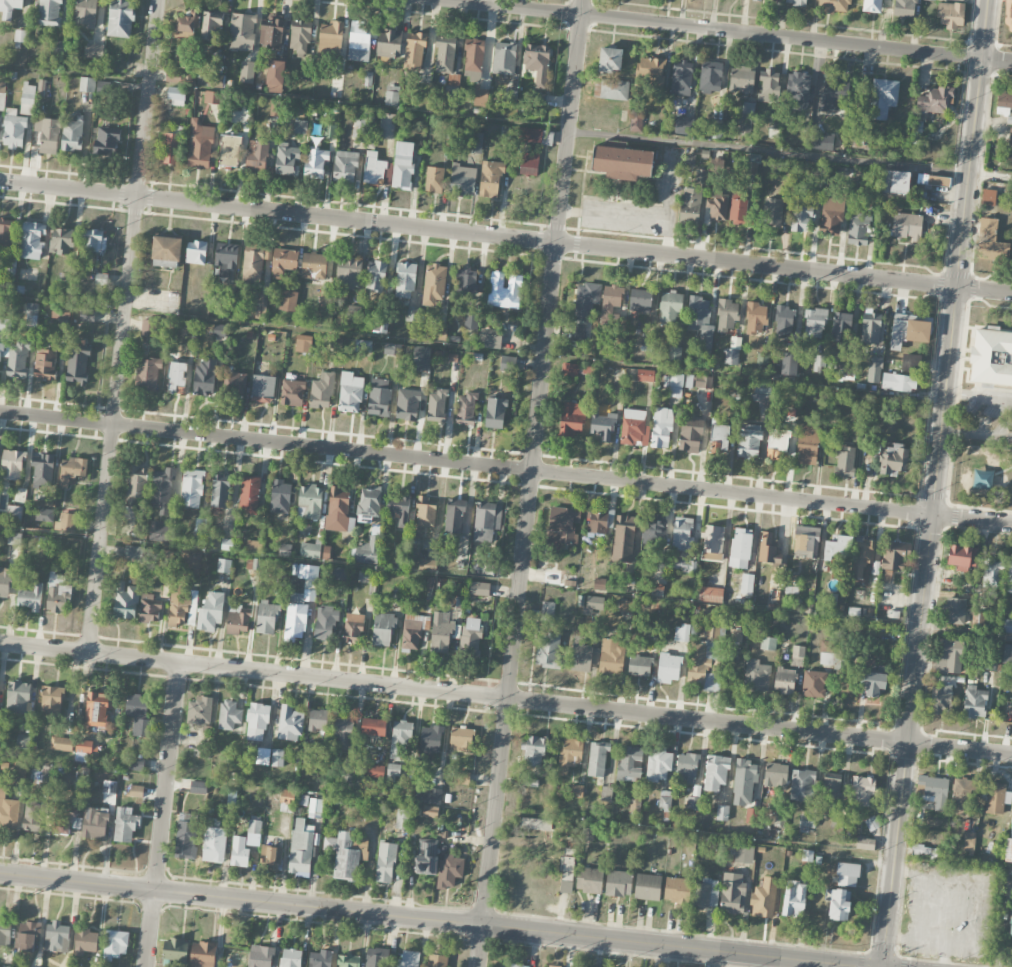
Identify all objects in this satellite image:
building: (757, 0)
building: (797, 2)
building: (834, 6)
building: (872, 6)
building: (9, 8)
building: (905, 8)
building: (50, 12)
building: (1011, 12)
building: (86, 13)
building: (951, 14)
building: (120, 18)
building: (211, 26)
building: (185, 27)
building: (242, 32)
building: (271, 32)
road: (725, 32)
building: (300, 36)
building: (330, 39)
building: (359, 42)
building: (388, 43)
building: (63, 48)
building: (93, 50)
building: (414, 52)
building: (444, 58)
building: (504, 58)
building: (473, 59)
building: (610, 59)
building: (537, 63)
building: (247, 72)
building: (651, 72)
building: (275, 76)
building: (710, 77)
building: (681, 78)
building: (741, 79)
building: (209, 81)
building: (87, 84)
building: (2, 85)
building: (769, 86)
building: (614, 89)
building: (452, 90)
building: (797, 91)
building: (833, 92)
building: (175, 95)
building: (31, 96)
building: (392, 96)
building: (480, 96)
building: (211, 97)
building: (511, 97)
building: (882, 98)
building: (538, 99)
building: (934, 100)
building: (1004, 103)
building: (746, 119)
road: (506, 120)
building: (636, 122)
building: (683, 125)
building: (386, 126)
building: (300, 127)
building: (13, 129)
building: (716, 129)
building: (330, 130)
building: (72, 134)
building: (47, 135)
building: (534, 136)
building: (1010, 136)
building: (861, 139)
building: (105, 141)
building: (821, 142)
building: (476, 143)
road: (974, 144)
building: (201, 145)
building: (171, 148)
building: (229, 150)
building: (257, 155)
building: (286, 160)
building: (622, 162)
building: (315, 163)
building: (529, 164)
building: (403, 165)
building: (345, 166)
building: (751, 168)
building: (376, 170)
building: (701, 177)
building: (490, 178)
building: (434, 179)
building: (463, 180)
building: (931, 181)
building: (895, 182)
building: (988, 197)
building: (690, 206)
building: (738, 212)
building: (772, 213)
building: (832, 213)
building: (801, 219)
building: (907, 226)
building: (858, 229)
road: (479, 234)
building: (6, 235)
building: (33, 240)
building: (91, 240)
building: (991, 240)
building: (61, 241)
building: (166, 248)
building: (195, 252)
building: (226, 259)
building: (283, 262)
building: (253, 264)
building: (313, 266)
building: (349, 273)
building: (376, 276)
building: (405, 280)
building: (467, 282)
building: (434, 283)
building: (505, 290)
road: (985, 290)
building: (288, 300)
building: (326, 300)
building: (585, 300)
building: (640, 300)
building: (260, 304)
building: (611, 307)
building: (30, 312)
building: (353, 313)
building: (413, 313)
building: (87, 315)
building: (727, 315)
building: (756, 318)
building: (701, 320)
building: (471, 321)
building: (784, 321)
building: (815, 323)
building: (382, 324)
road: (124, 326)
building: (841, 326)
building: (148, 327)
building: (189, 327)
building: (871, 327)
building: (909, 331)
building: (437, 332)
building: (577, 332)
building: (490, 338)
road: (394, 340)
building: (303, 343)
building: (364, 346)
building: (392, 349)
building: (733, 352)
building: (674, 354)
building: (833, 355)
building: (991, 357)
building: (421, 358)
building: (14, 361)
building: (910, 363)
building: (507, 364)
building: (789, 364)
building: (45, 365)
building: (77, 366)
building: (569, 370)
building: (874, 370)
building: (846, 371)
building: (148, 374)
building: (645, 375)
building: (203, 376)
building: (176, 377)
building: (689, 381)
building: (703, 382)
building: (899, 382)
building: (234, 385)
building: (675, 385)
building: (262, 386)
building: (322, 391)
building: (292, 392)
building: (350, 392)
building: (762, 395)
road: (980, 395)
building: (379, 398)
building: (407, 405)
building: (436, 406)
building: (466, 409)
building: (495, 413)
building: (572, 417)
building: (602, 425)
building: (634, 428)
building: (661, 428)
road: (974, 432)
building: (690, 433)
building: (719, 437)
building: (749, 441)
building: (777, 444)
building: (808, 444)
building: (894, 460)
building: (844, 462)
building: (12, 464)
road: (506, 467)
building: (42, 469)
building: (71, 470)
road: (531, 483)
building: (137, 488)
building: (191, 488)
building: (163, 490)
building: (220, 491)
building: (249, 494)
building: (280, 496)
building: (310, 502)
building: (369, 502)
building: (338, 509)
building: (399, 509)
building: (426, 512)
building: (14, 514)
building: (44, 515)
building: (454, 516)
building: (486, 521)
building: (65, 522)
building: (564, 525)
building: (161, 531)
building: (656, 531)
building: (199, 532)
building: (682, 534)
building: (623, 539)
building: (806, 542)
building: (713, 543)
building: (13, 545)
building: (253, 546)
building: (740, 548)
building: (838, 548)
building: (768, 549)
building: (310, 550)
building: (367, 551)
building: (133, 553)
road: (260, 556)
building: (894, 558)
building: (961, 558)
building: (400, 559)
building: (862, 561)
building: (544, 562)
building: (165, 563)
building: (191, 564)
building: (223, 565)
building: (427, 565)
building: (683, 565)
building: (339, 573)
building: (991, 573)
building: (1009, 575)
building: (365, 576)
building: (551, 578)
building: (5, 582)
building: (599, 584)
building: (747, 584)
building: (482, 589)
building: (57, 594)
building: (710, 594)
building: (29, 598)
building: (830, 598)
building: (126, 601)
building: (595, 603)
building: (182, 605)
building: (624, 606)
building: (148, 609)
building: (547, 610)
building: (954, 610)
building: (211, 612)
building: (295, 617)
building: (266, 618)
building: (237, 622)
building: (325, 623)
building: (1007, 626)
road: (921, 627)
building: (353, 628)
building: (382, 629)
building: (412, 632)
building: (441, 632)
building: (682, 633)
road: (966, 634)
building: (471, 635)
building: (737, 636)
building: (768, 643)
building: (548, 651)
building: (583, 654)
building: (704, 654)
building: (832, 654)
building: (1007, 654)
building: (797, 656)
building: (949, 656)
building: (611, 657)
building: (639, 666)
building: (668, 668)
building: (756, 676)
building: (784, 681)
building: (874, 681)
building: (814, 684)
building: (17, 697)
road: (505, 698)
building: (941, 699)
building: (50, 700)
building: (974, 702)
building: (96, 709)
building: (199, 711)
building: (138, 713)
building: (228, 715)
building: (317, 720)
building: (257, 722)
building: (289, 723)
building: (373, 727)
building: (343, 732)
building: (399, 738)
building: (461, 739)
building: (22, 741)
building: (429, 742)
building: (61, 744)
building: (84, 746)
building: (534, 751)
building: (570, 754)
building: (80, 756)
building: (262, 756)
building: (277, 758)
building: (597, 759)
building: (629, 763)
building: (135, 764)
building: (658, 764)
building: (688, 767)
building: (373, 771)
building: (393, 771)
building: (716, 772)
building: (775, 775)
building: (348, 777)
building: (463, 777)
building: (743, 782)
building: (802, 785)
building: (109, 787)
building: (198, 787)
building: (831, 788)
building: (934, 790)
building: (136, 791)
building: (577, 791)
building: (862, 791)
building: (606, 793)
building: (428, 795)
building: (963, 795)
building: (996, 798)
building: (665, 799)
building: (635, 801)
building: (316, 802)
building: (693, 803)
building: (8, 811)
building: (430, 812)
building: (722, 812)
building: (32, 815)
road: (163, 815)
building: (63, 819)
building: (402, 819)
building: (94, 823)
building: (535, 824)
building: (806, 824)
building: (125, 825)
road: (696, 835)
building: (186, 836)
building: (1009, 839)
building: (214, 841)
building: (969, 842)
building: (245, 844)
building: (865, 844)
building: (302, 848)
building: (916, 849)
building: (744, 853)
building: (343, 855)
building: (426, 856)
building: (273, 858)
building: (385, 862)
building: (449, 871)
building: (847, 874)
road: (134, 879)
road: (215, 880)
building: (589, 880)
road: (171, 883)
building: (618, 883)
building: (647, 887)
building: (677, 890)
building: (706, 893)
building: (732, 894)
road: (73, 895)
road: (986, 897)
road: (241, 898)
building: (764, 898)
building: (794, 898)
road: (169, 899)
building: (839, 904)
parking lot: (948, 913)
road: (306, 921)
road: (913, 923)
building: (1010, 927)
building: (5, 932)
building: (29, 937)
building: (56, 937)
building: (83, 941)
building: (115, 944)
road: (672, 946)
building: (174, 950)
building: (201, 954)
building: (260, 956)
building: (375, 957)
building: (290, 958)
building: (319, 959)
building: (408, 959)
building: (348, 960)
building: (436, 960)
building: (4, 965)
building: (514, 965)
building: (542, 966)

